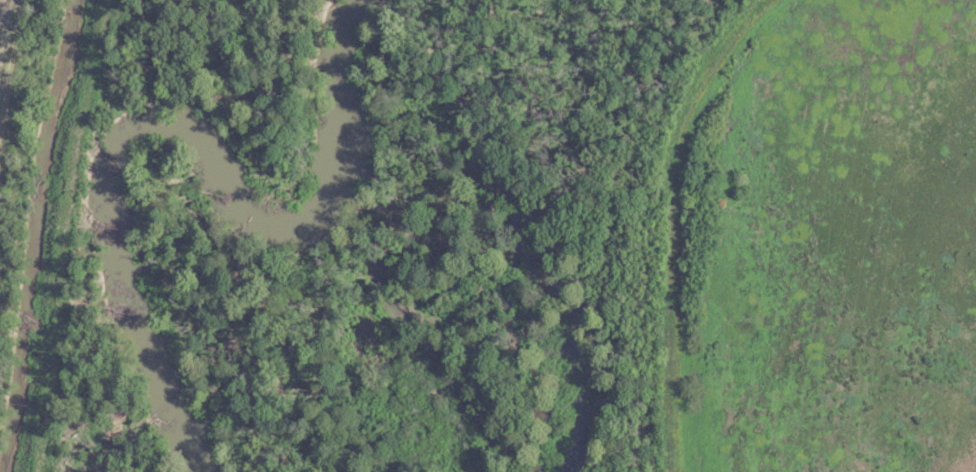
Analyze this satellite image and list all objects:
river: (183, 136)
road: (674, 221)

